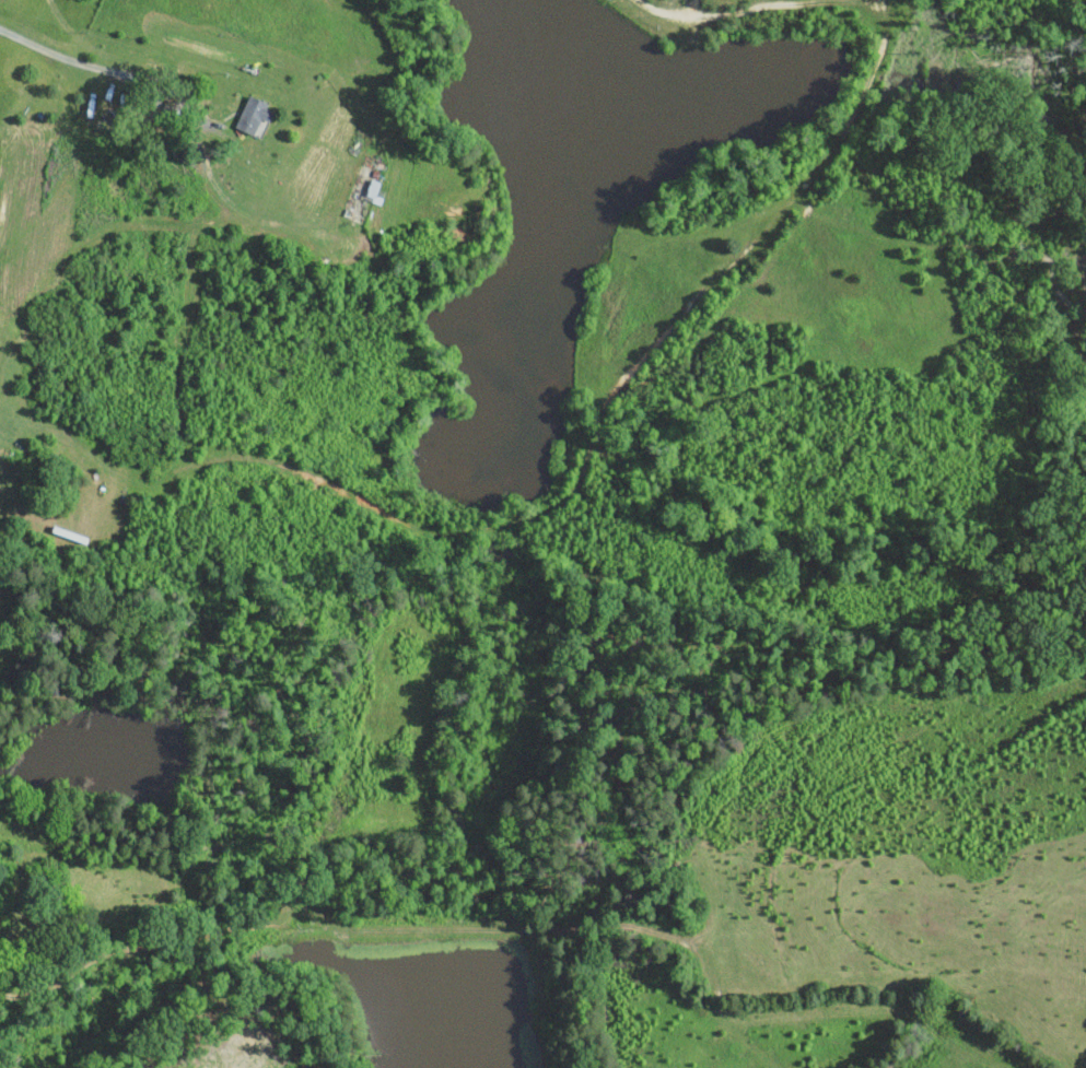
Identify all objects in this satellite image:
road: (114, 71)
building: (252, 115)

